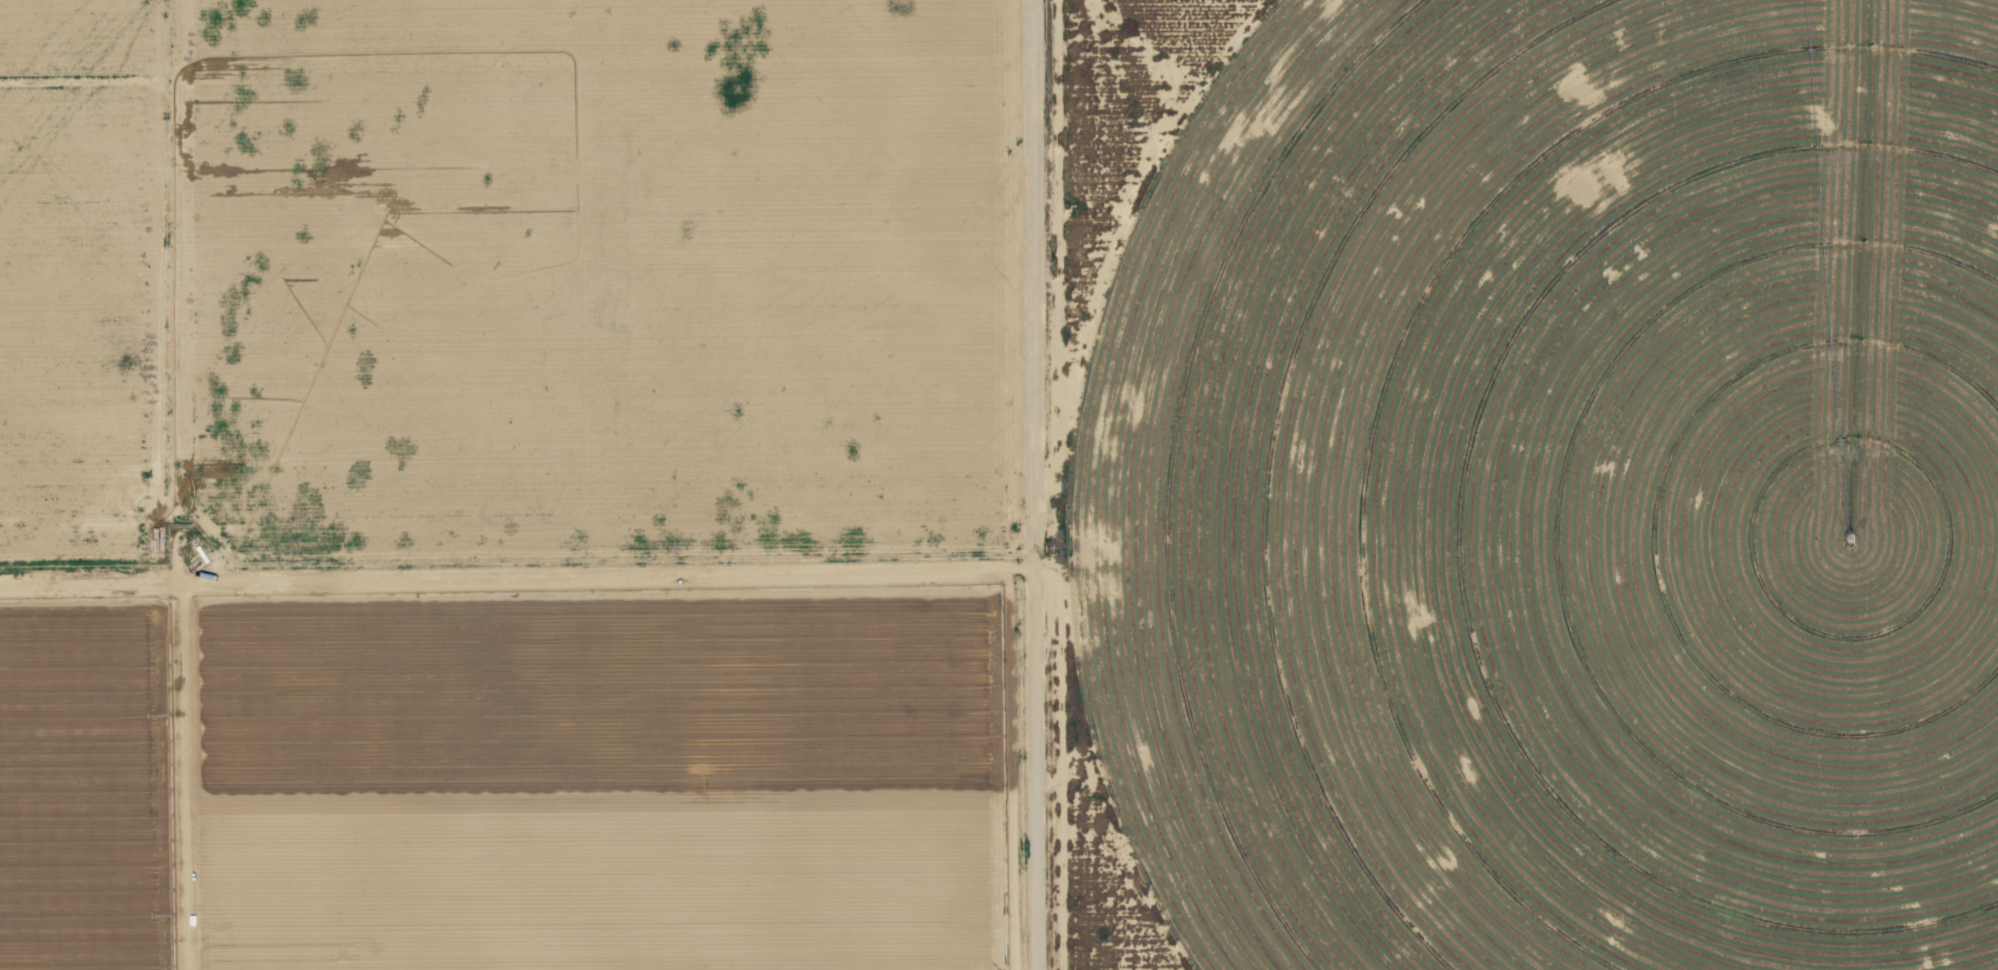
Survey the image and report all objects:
crop: (509, 485)
road: (1039, 485)
crop: (1562, 491)
road: (519, 572)

